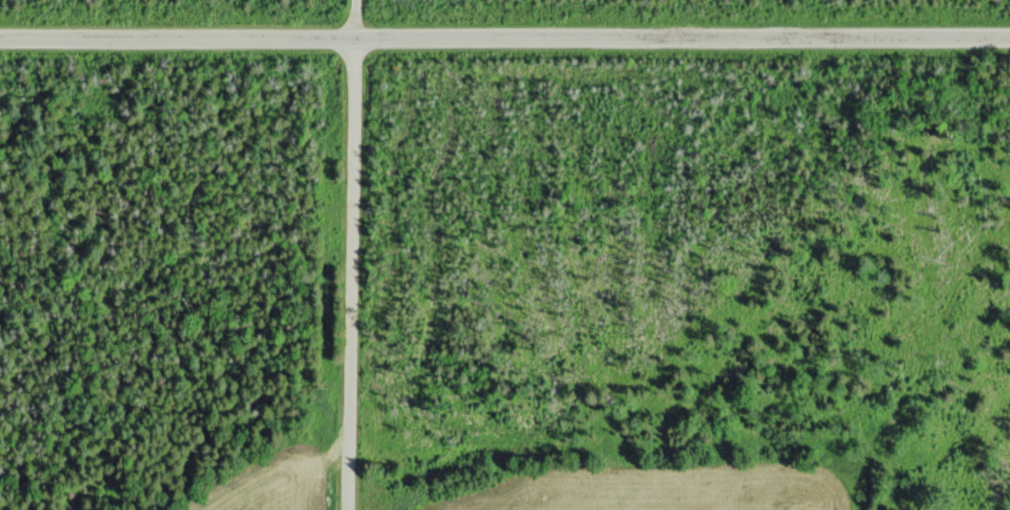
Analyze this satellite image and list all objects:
road: (504, 39)
road: (354, 254)

